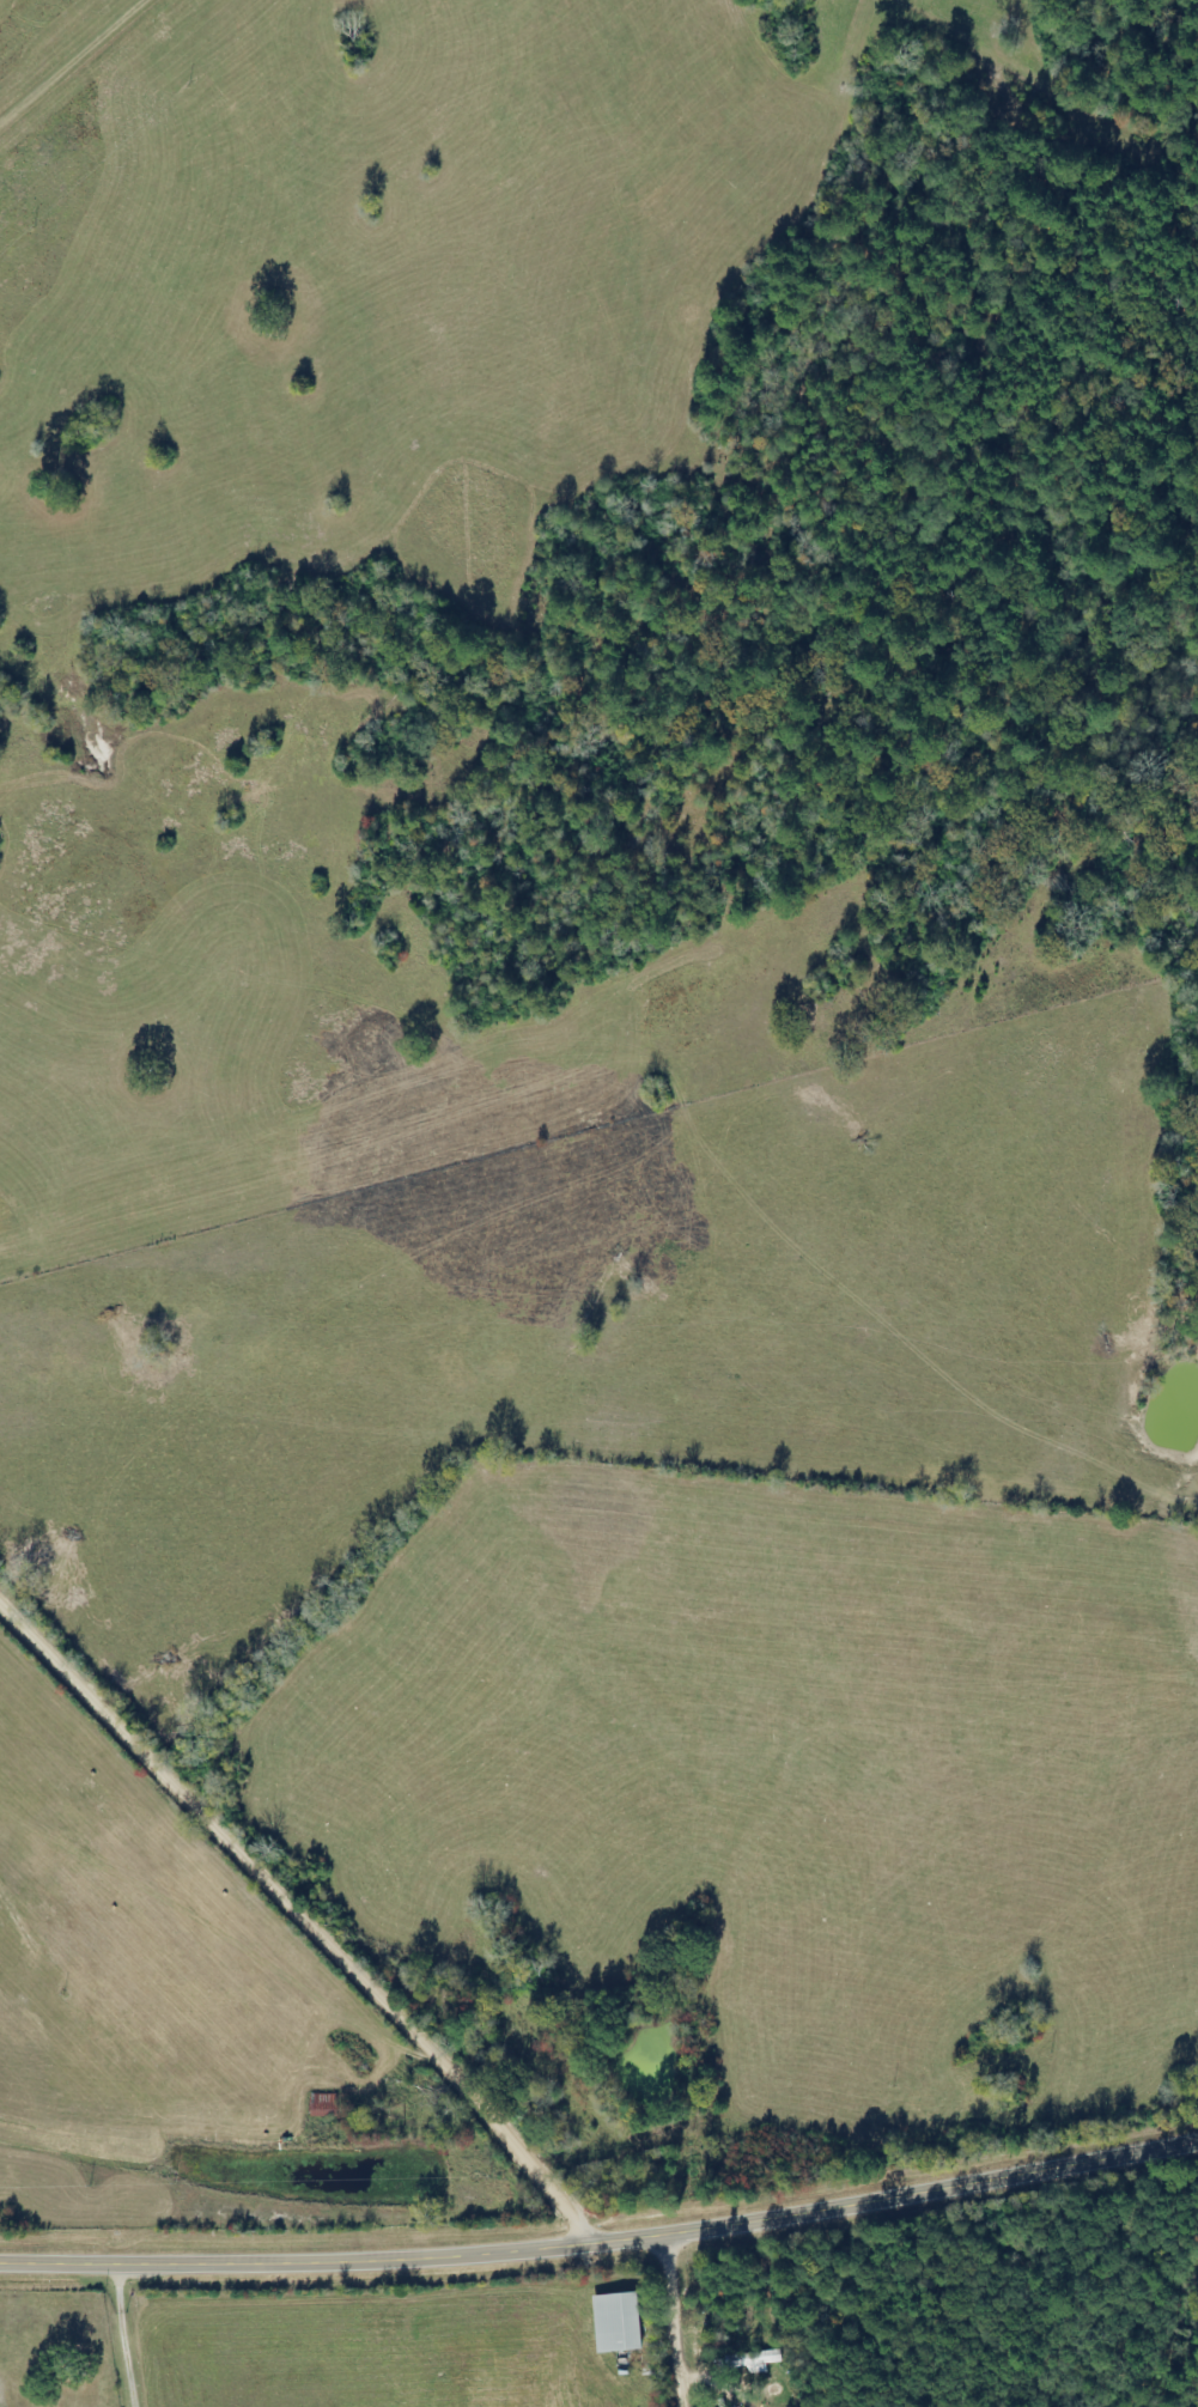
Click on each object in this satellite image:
road: (300, 1945)
road: (602, 2242)
road: (657, 2321)
building: (620, 2322)
building: (755, 2359)

